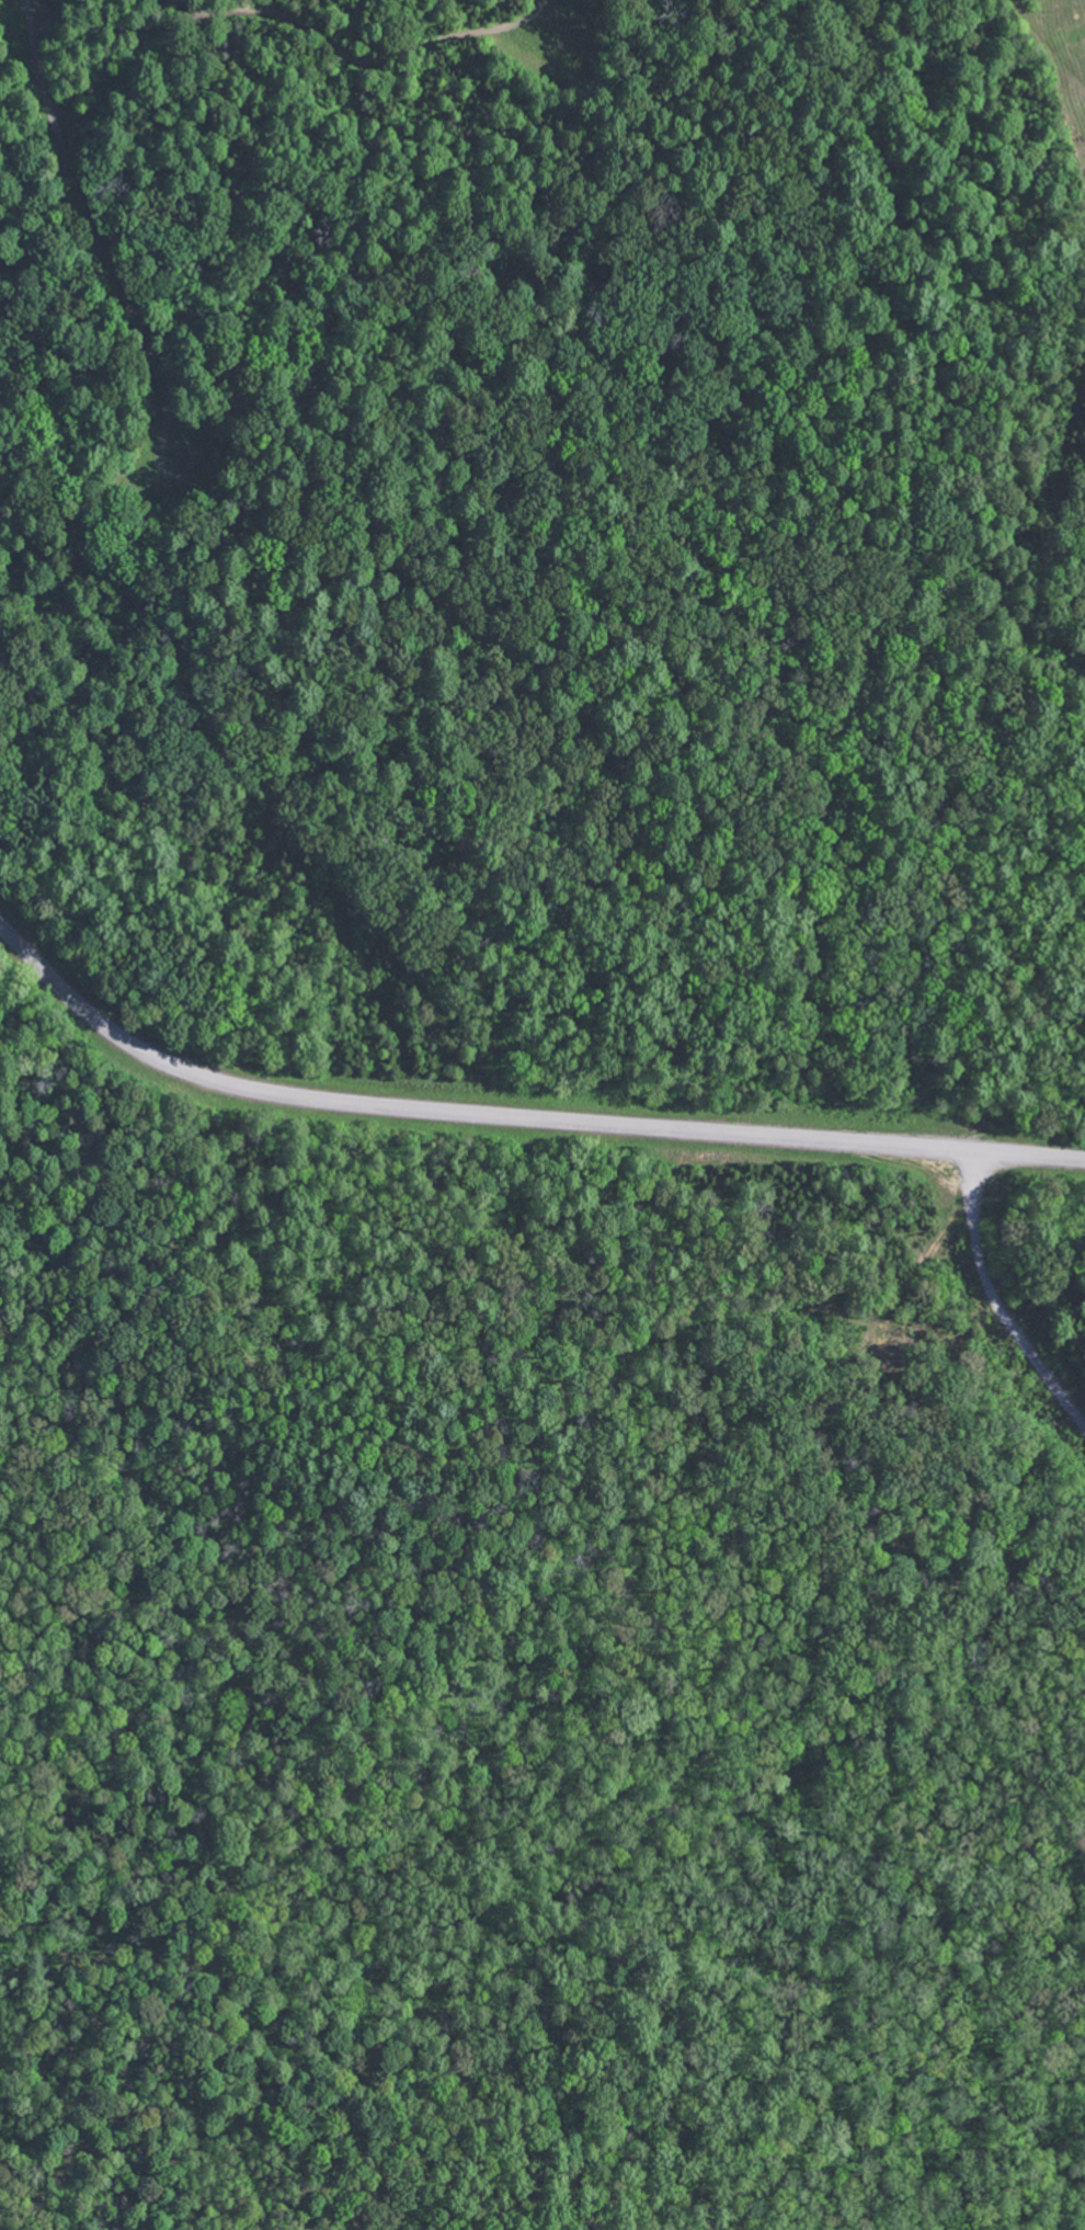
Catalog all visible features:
road: (515, 1116)

